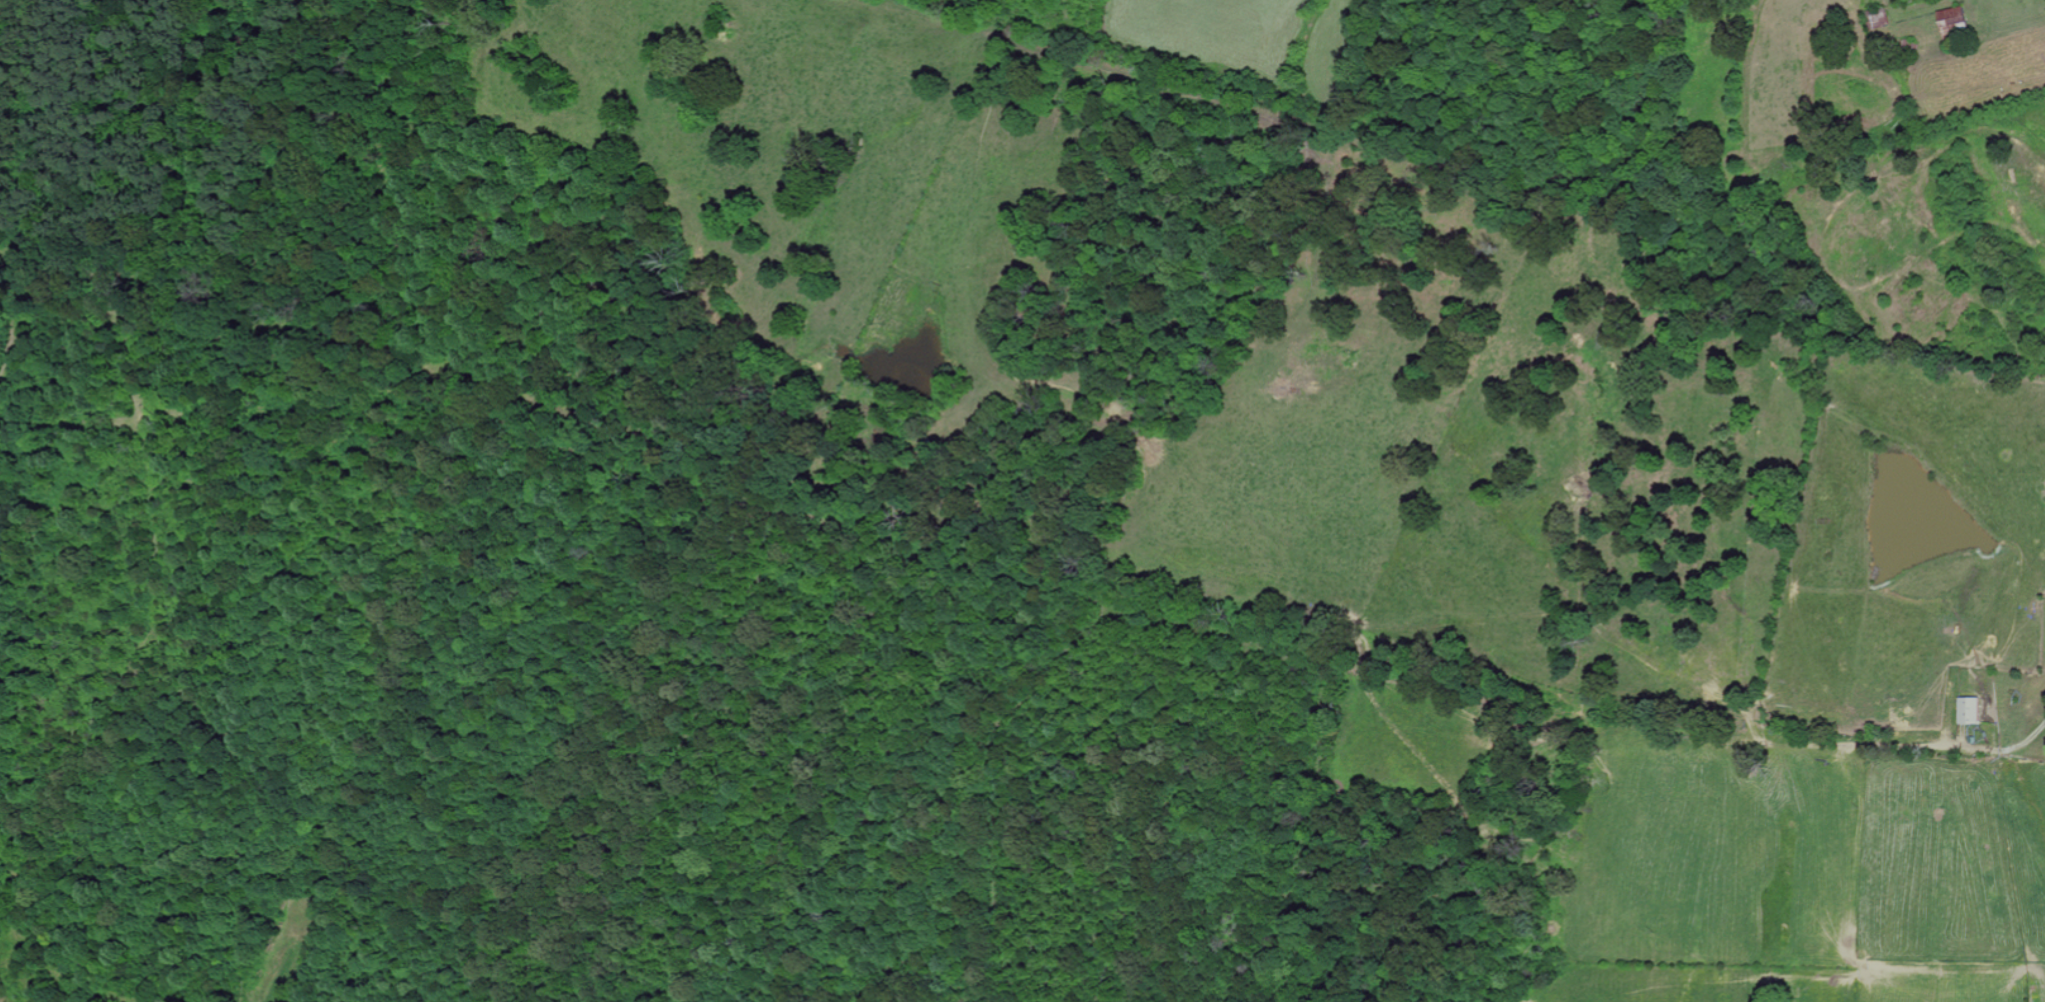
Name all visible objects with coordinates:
building: (1959, 21)
building: (1971, 709)

